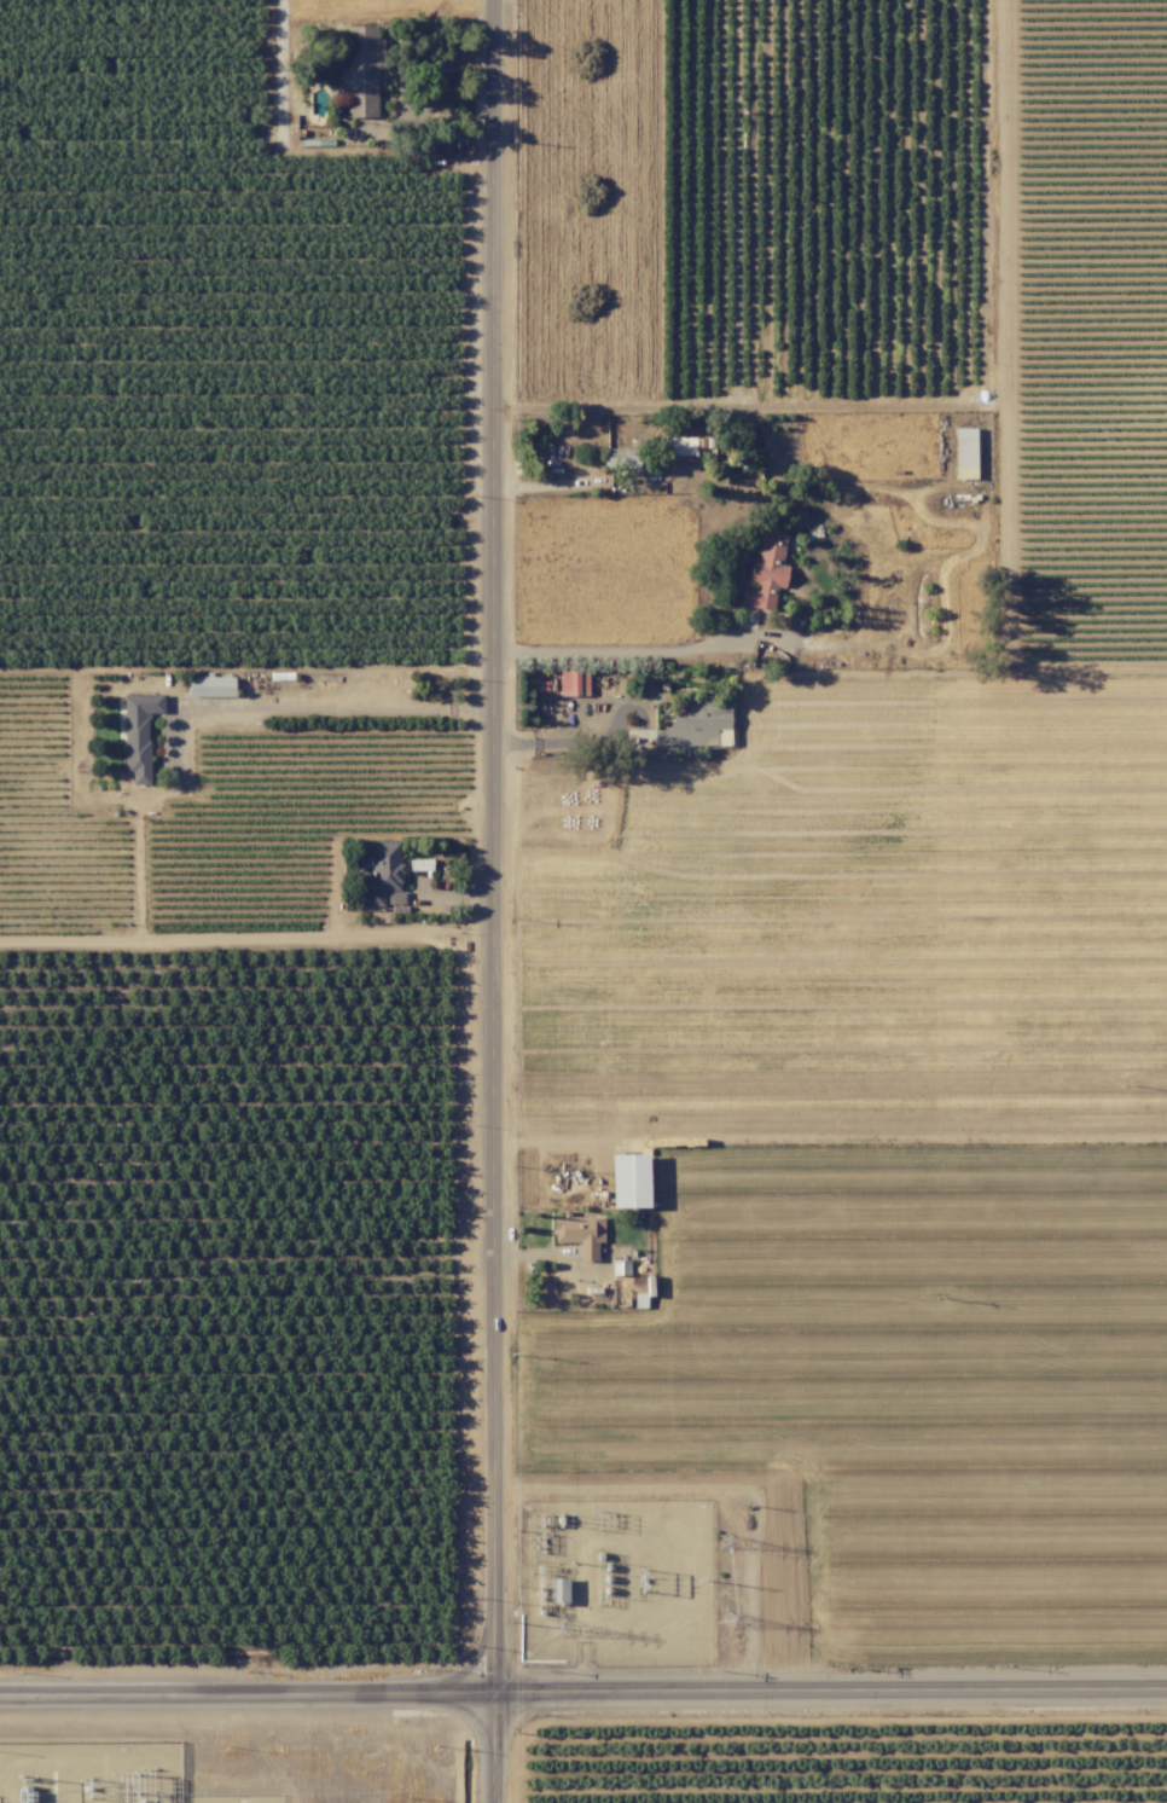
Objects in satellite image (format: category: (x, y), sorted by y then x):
road: (279, 68)
building: (360, 70)
road: (429, 92)
crop: (217, 367)
road: (745, 405)
building: (679, 445)
building: (964, 452)
building: (621, 457)
building: (765, 572)
road: (620, 651)
building: (573, 682)
building: (209, 685)
road: (347, 707)
building: (696, 724)
building: (138, 732)
road: (612, 740)
building: (419, 863)
building: (382, 871)
road: (504, 902)
building: (628, 1179)
building: (580, 1231)
building: (620, 1266)
crop: (225, 1310)
crop: (883, 1350)
building: (557, 1589)
road: (583, 1689)
crop: (837, 1756)

